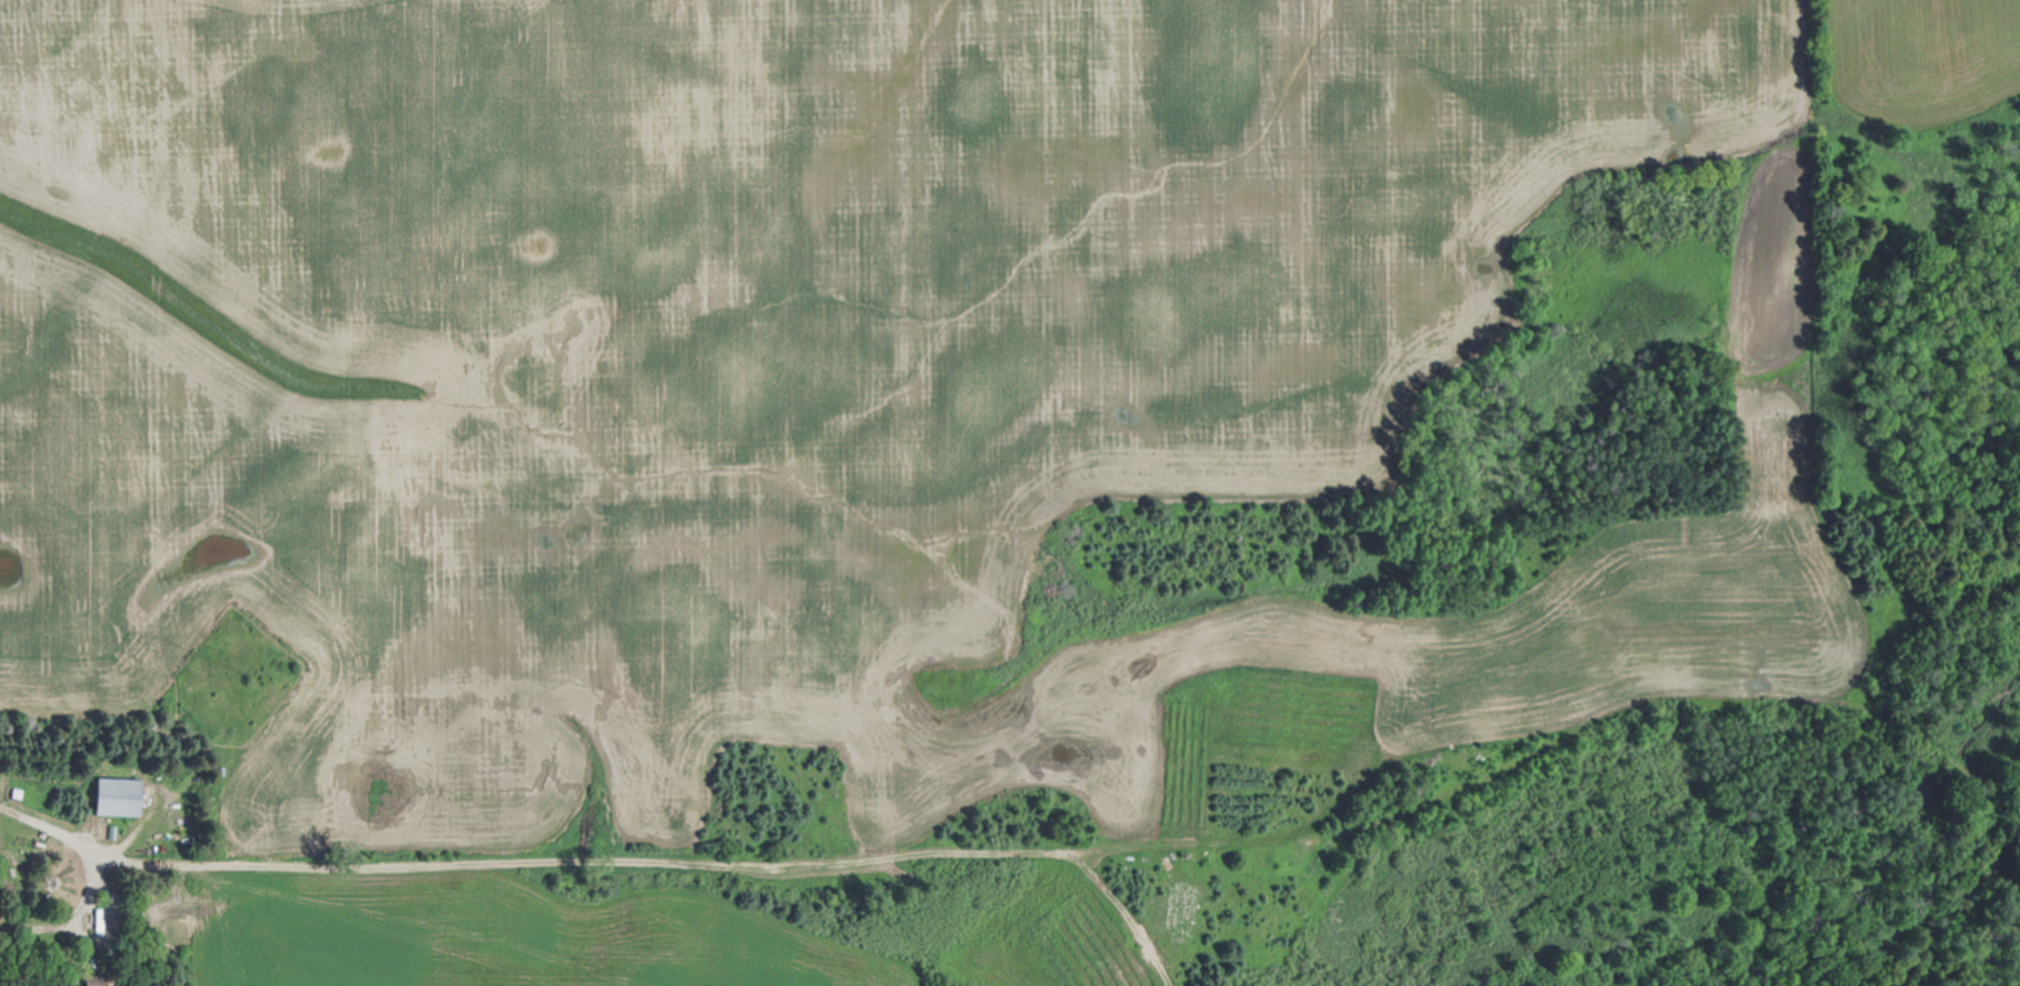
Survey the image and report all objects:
building: (121, 797)
road: (107, 871)
building: (102, 980)

